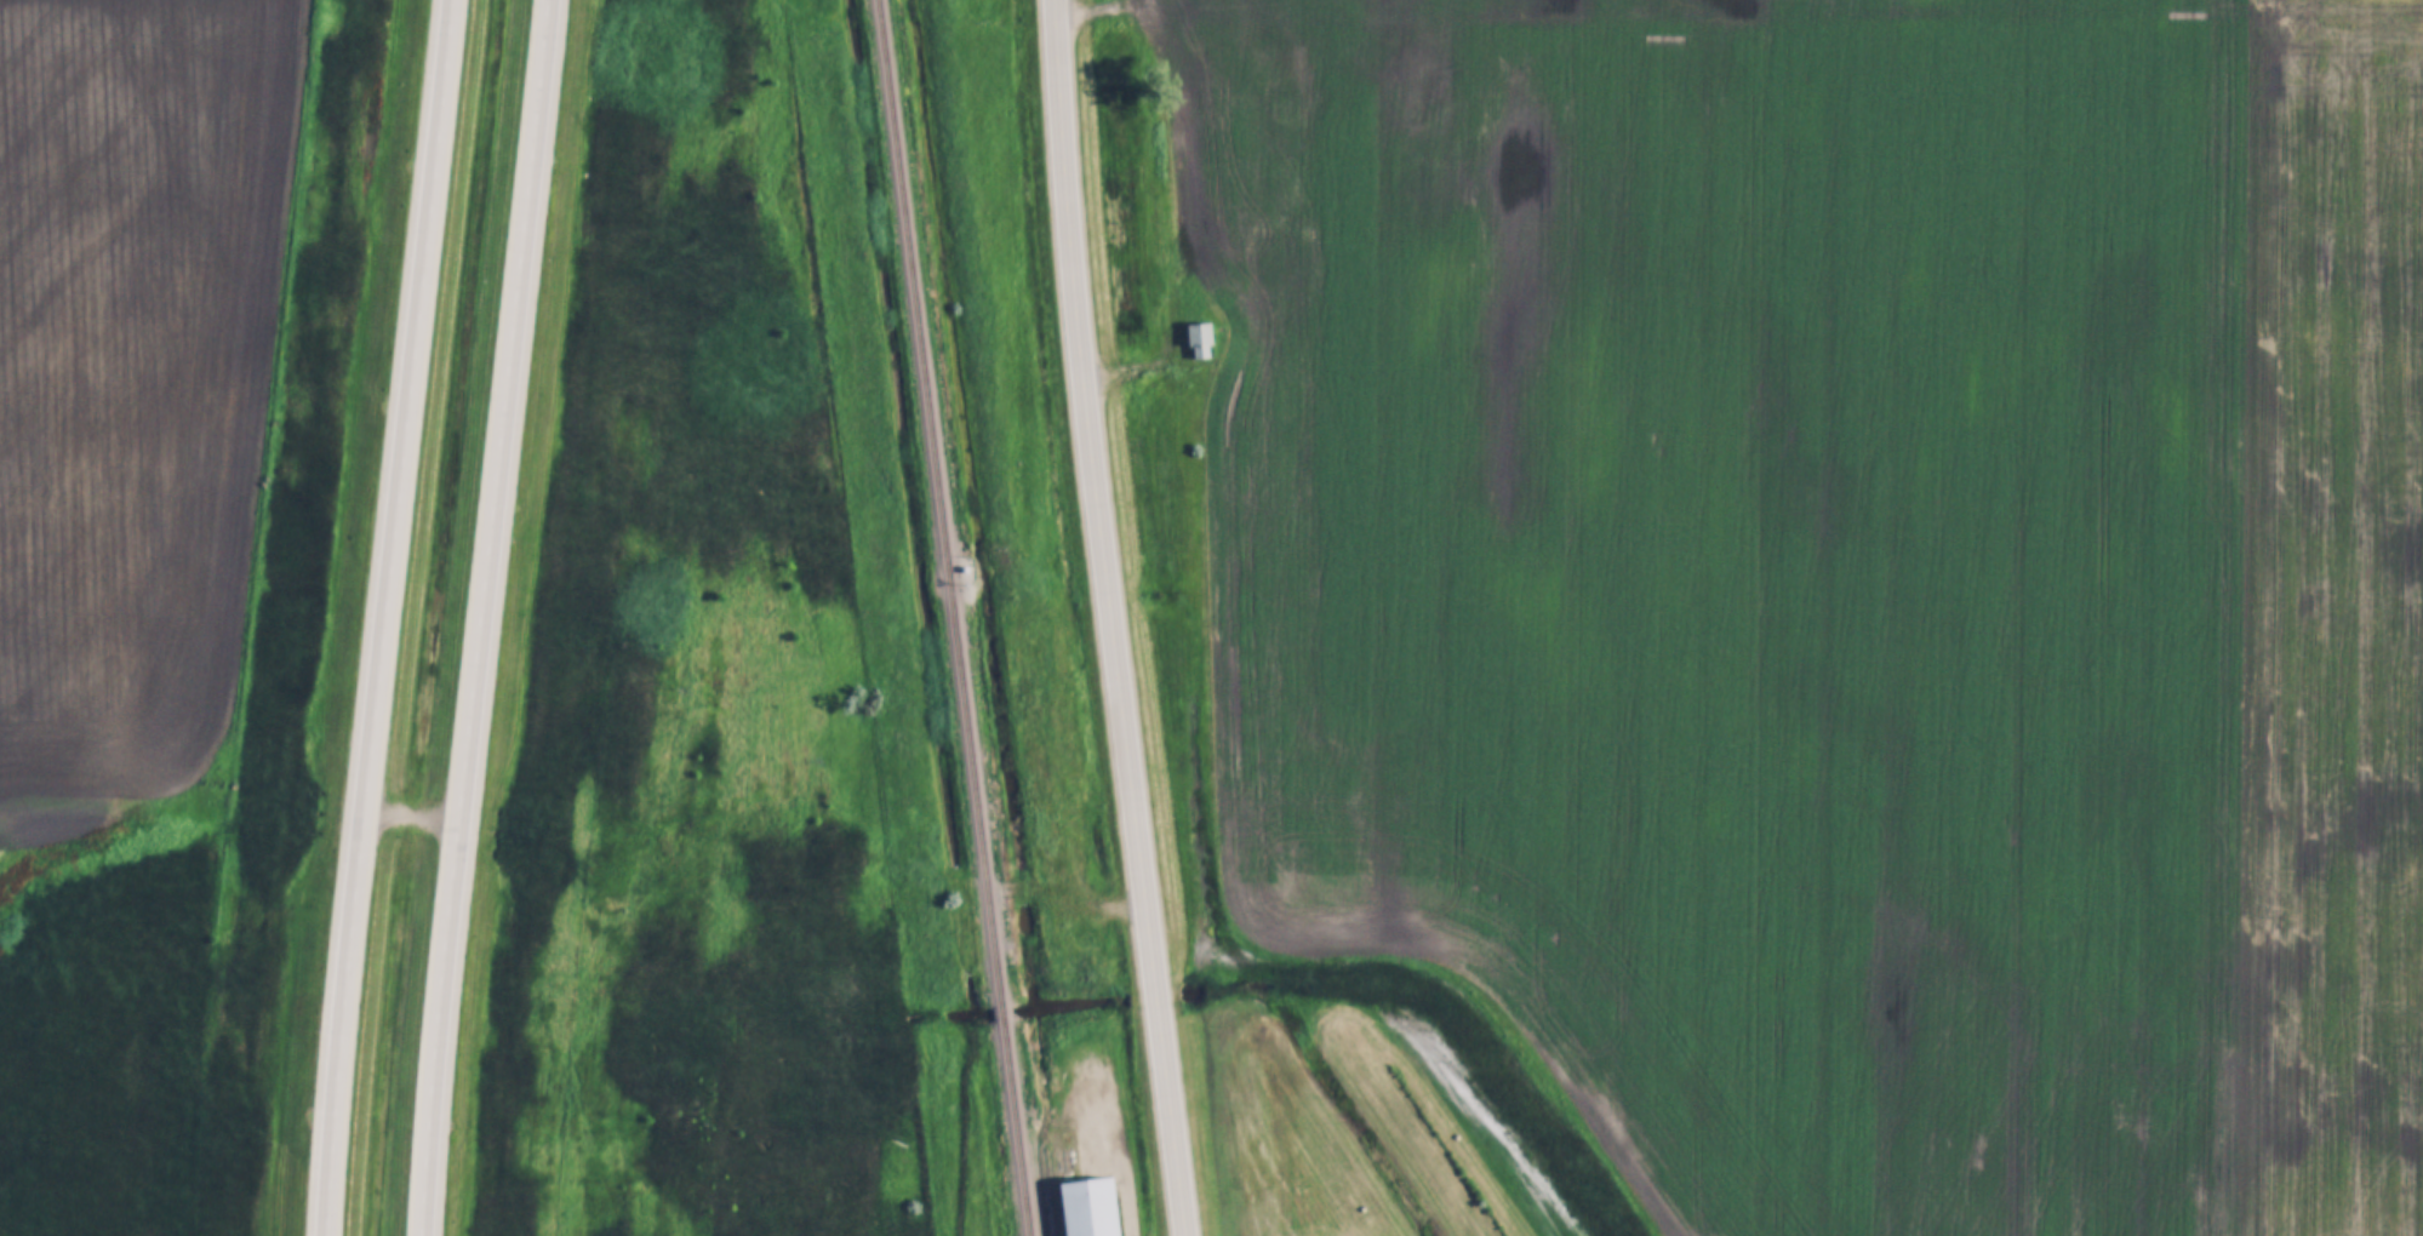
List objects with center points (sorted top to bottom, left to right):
building: (1201, 337)
road: (384, 617)
road: (479, 617)
railway: (952, 617)
road: (1116, 618)
railway: (1050, 1194)
building: (1092, 1209)

